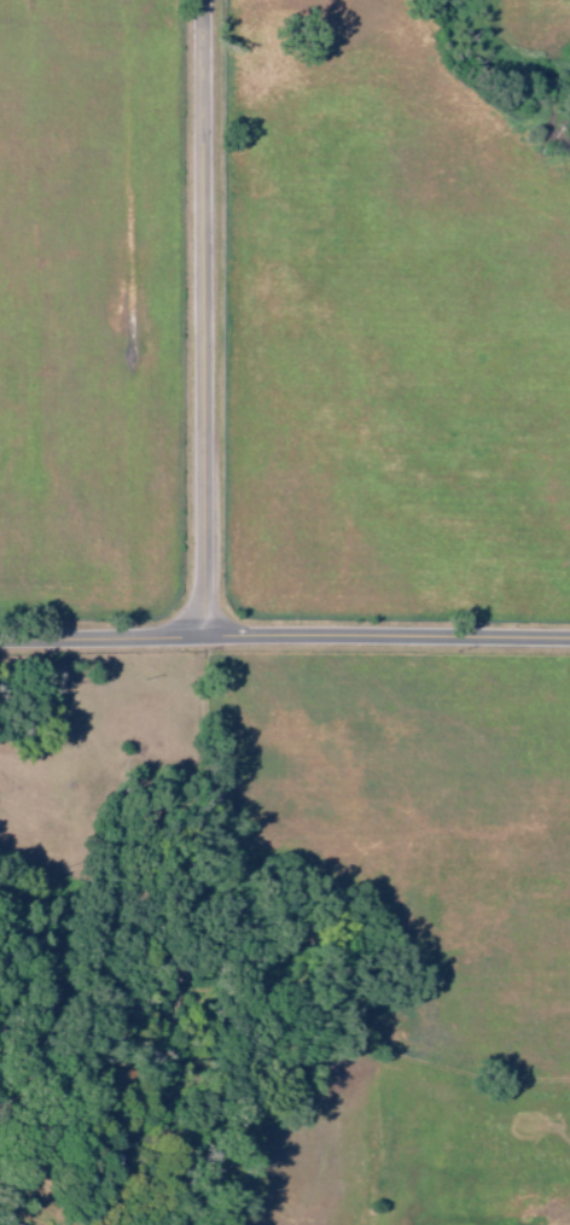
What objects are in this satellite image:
road: (205, 321)
road: (284, 641)

